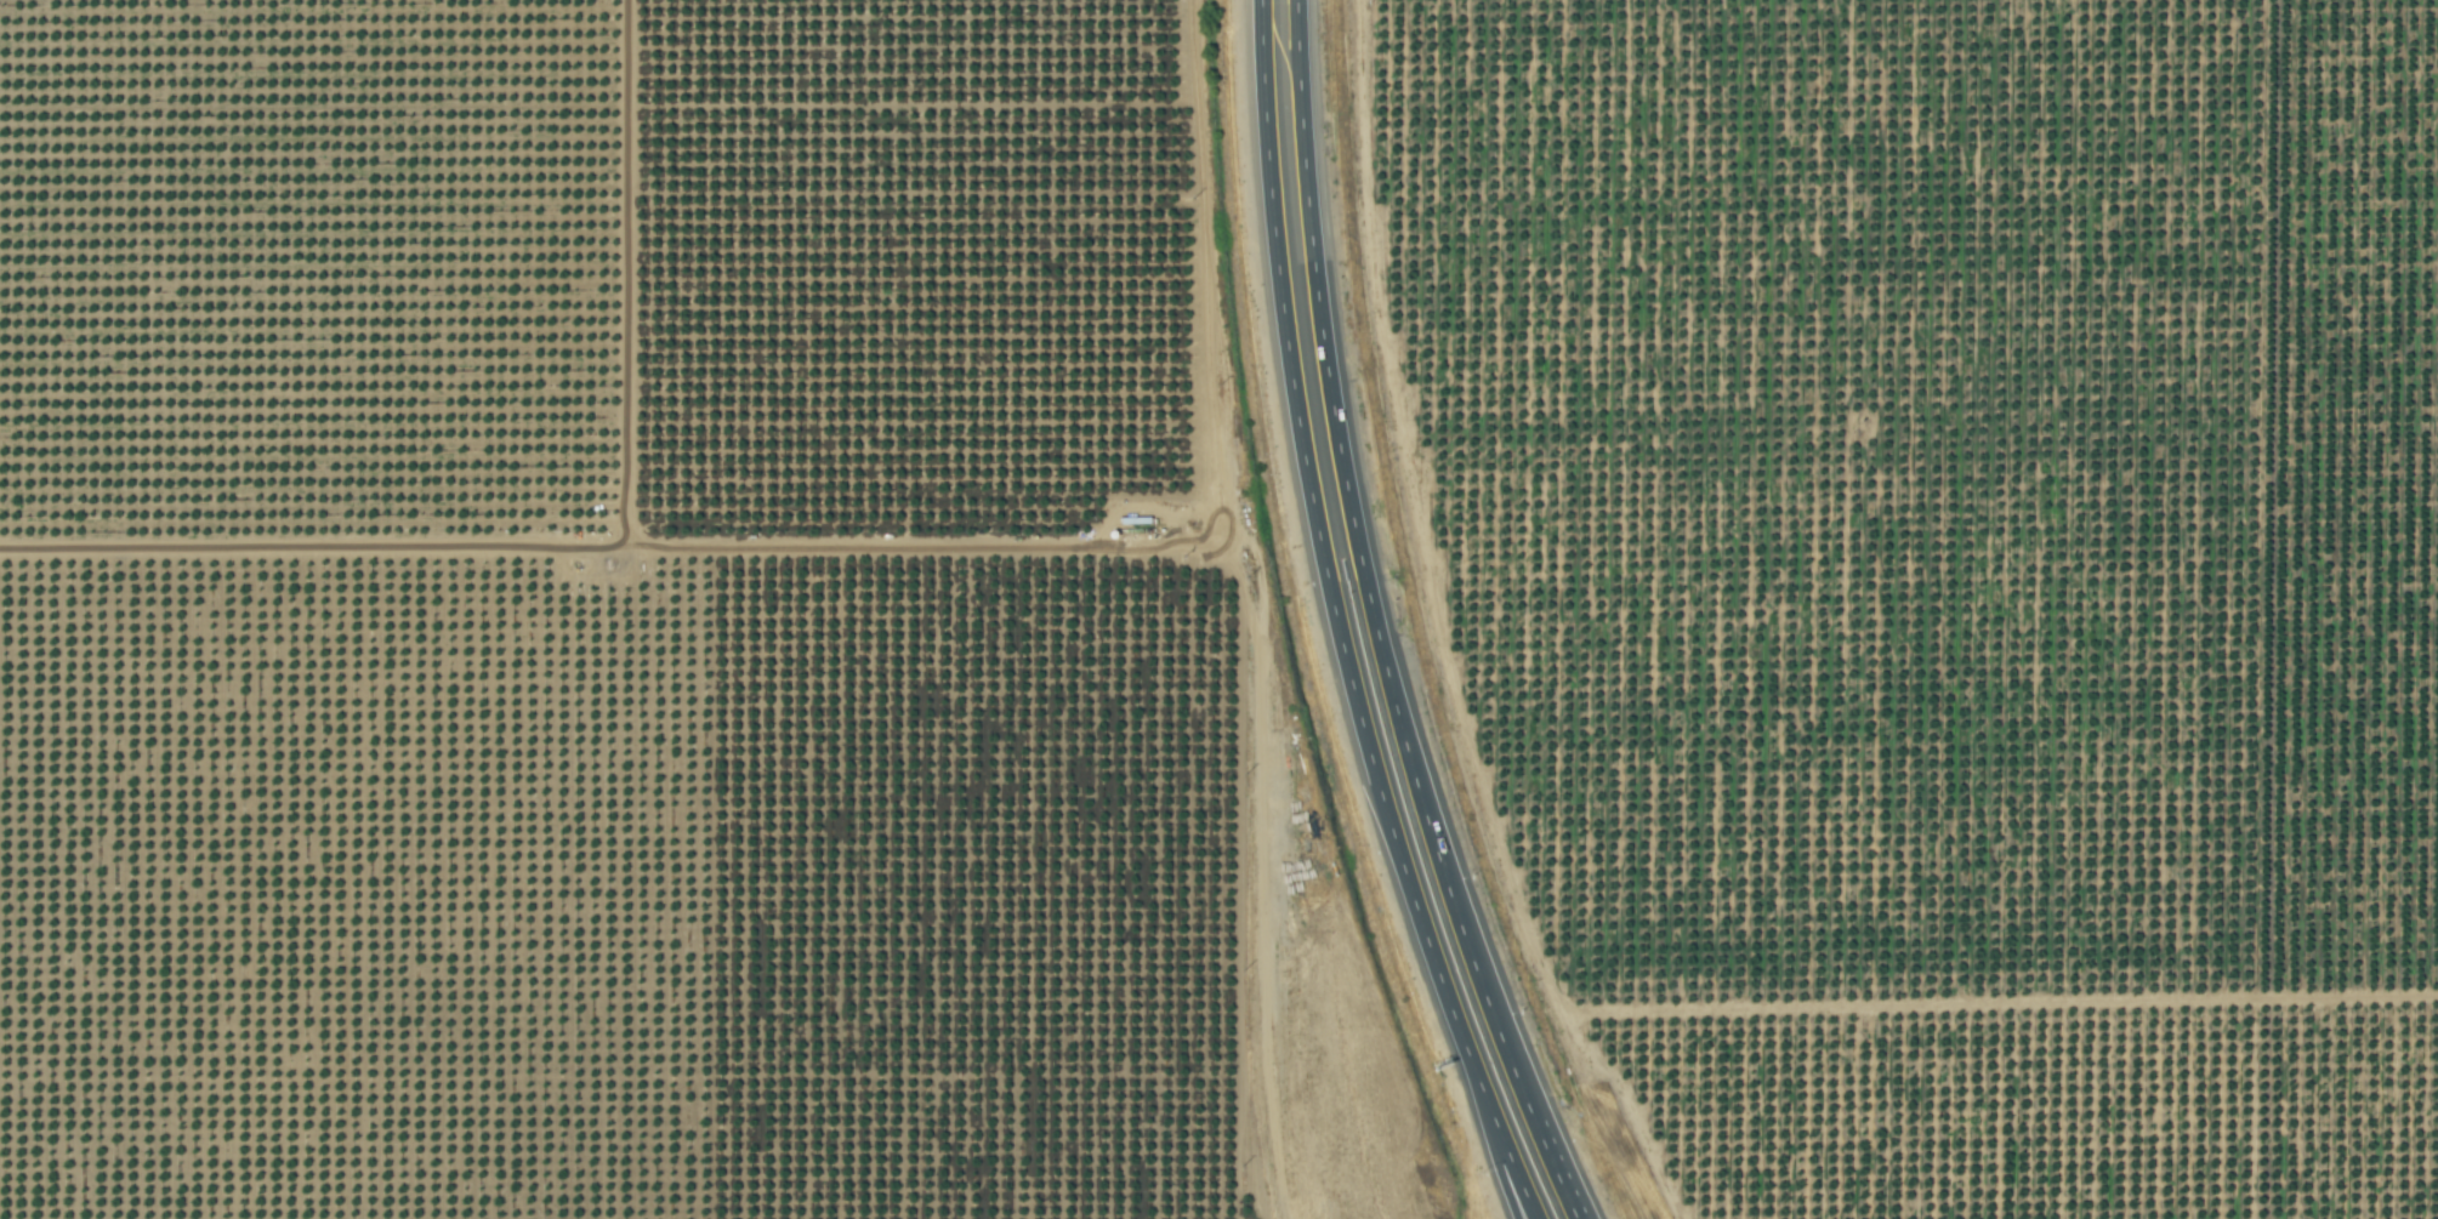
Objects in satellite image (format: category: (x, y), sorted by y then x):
road: (1279, 18)
road: (1297, 290)
road: (612, 546)
road: (1430, 832)
road: (1408, 885)
road: (1553, 1170)
road: (1499, 1173)

